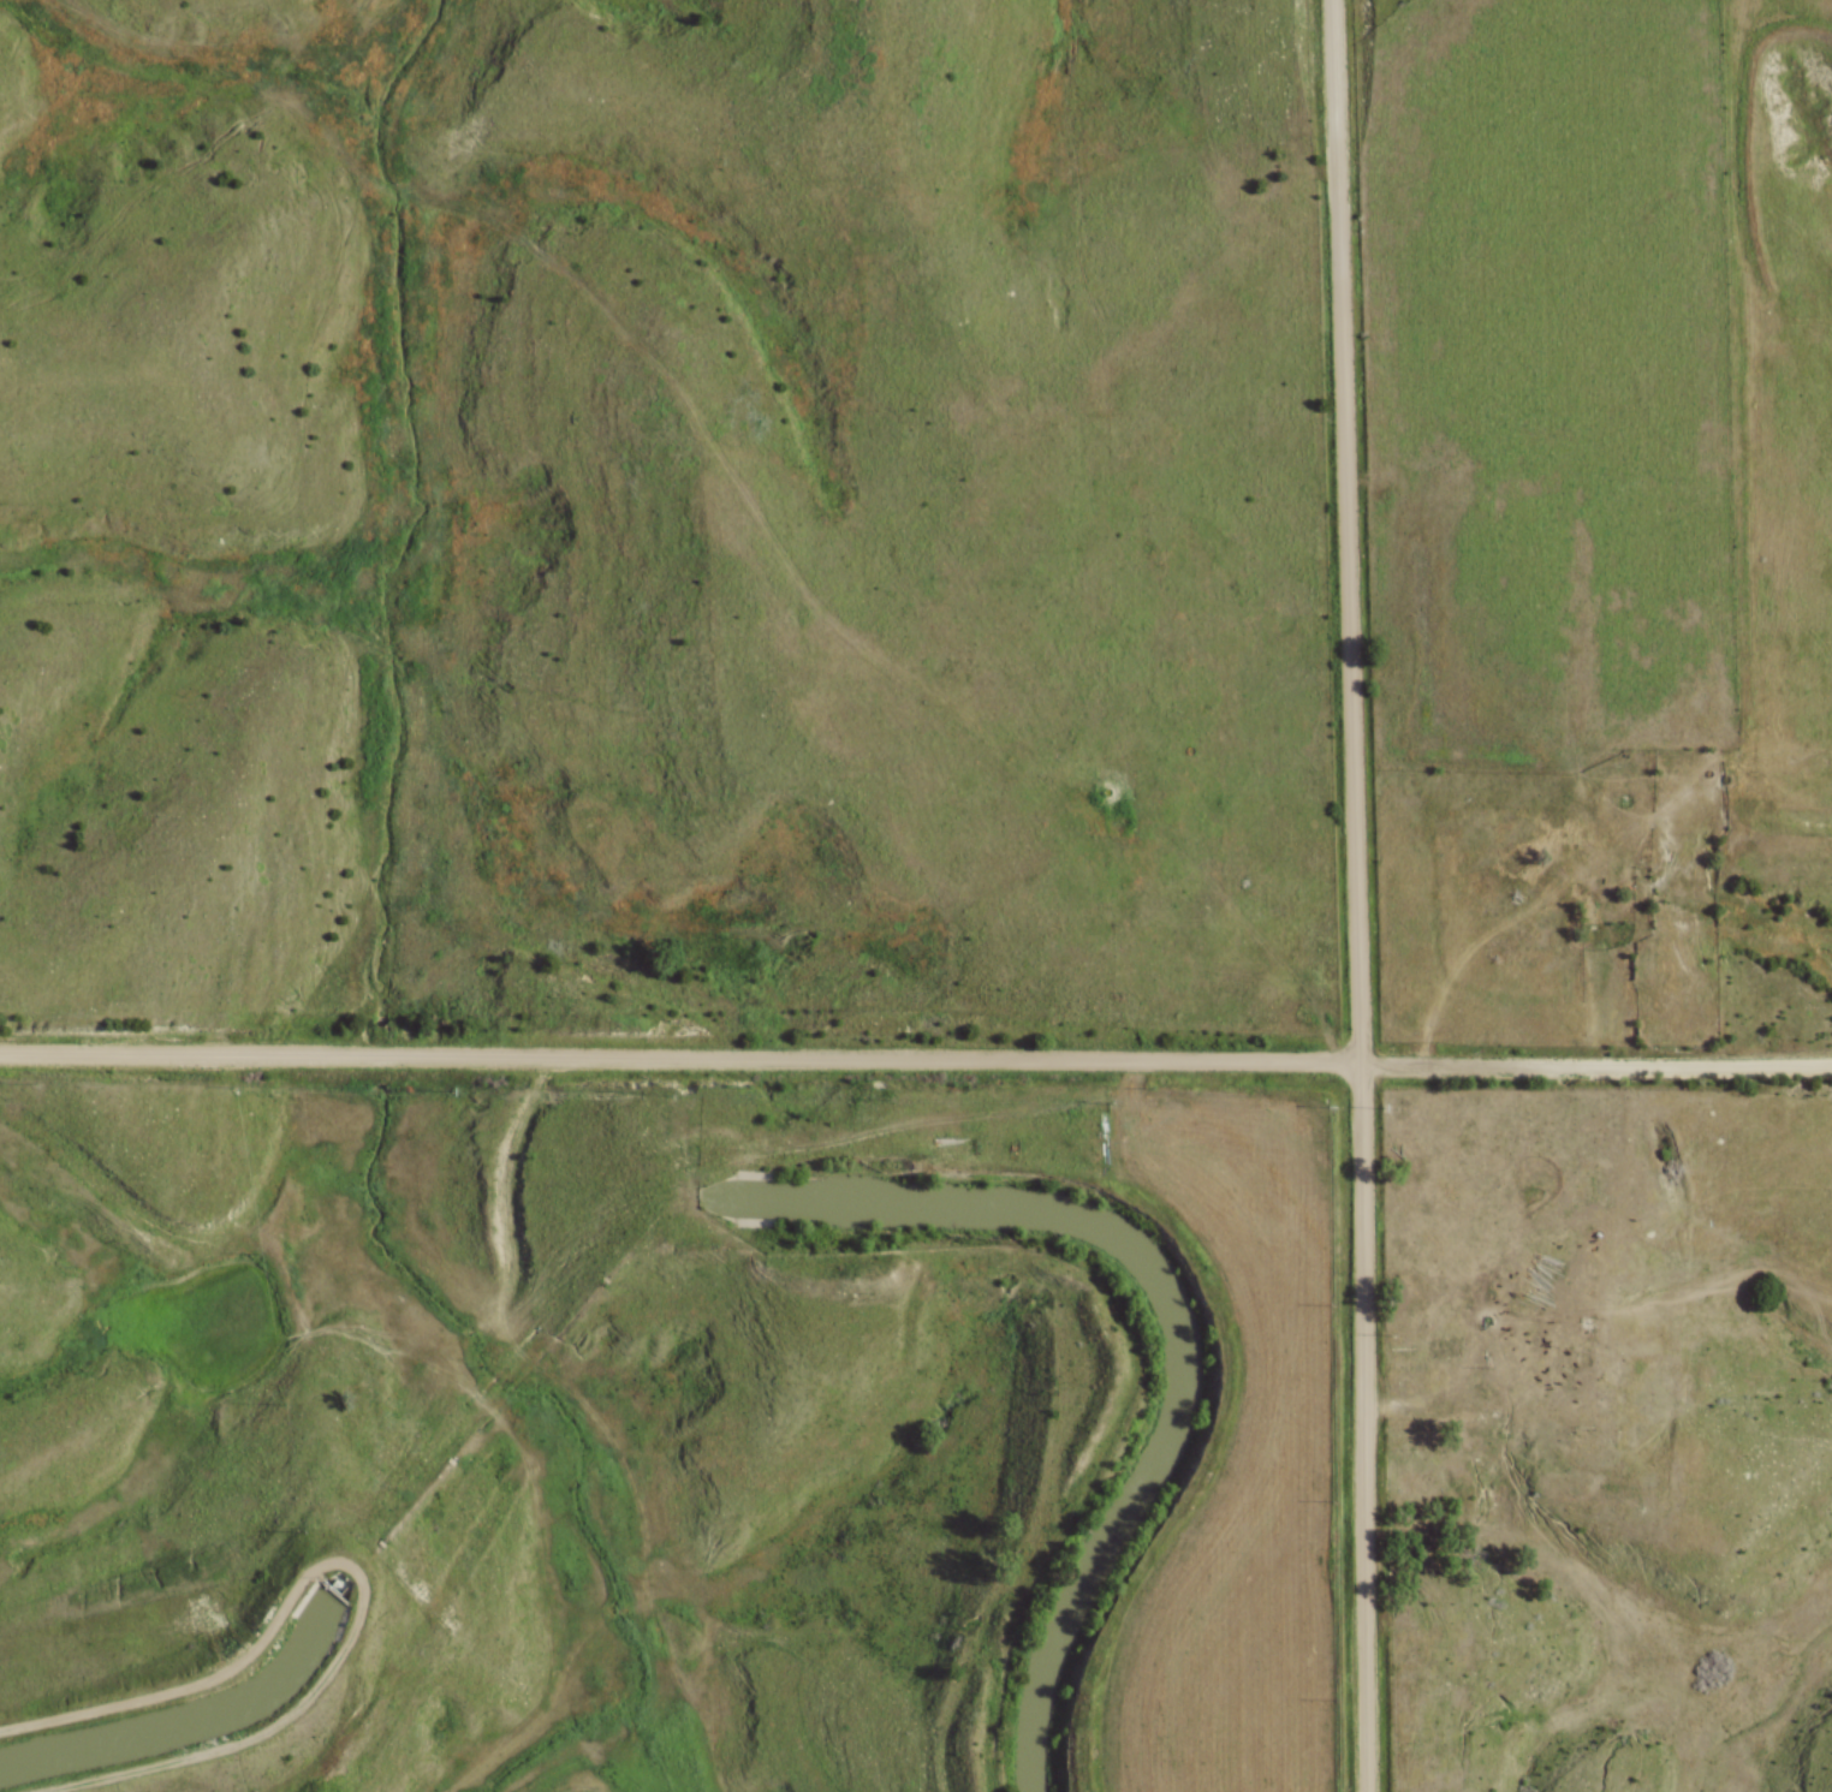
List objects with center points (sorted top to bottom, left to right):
road: (1356, 895)
road: (915, 1062)
road: (345, 1568)

